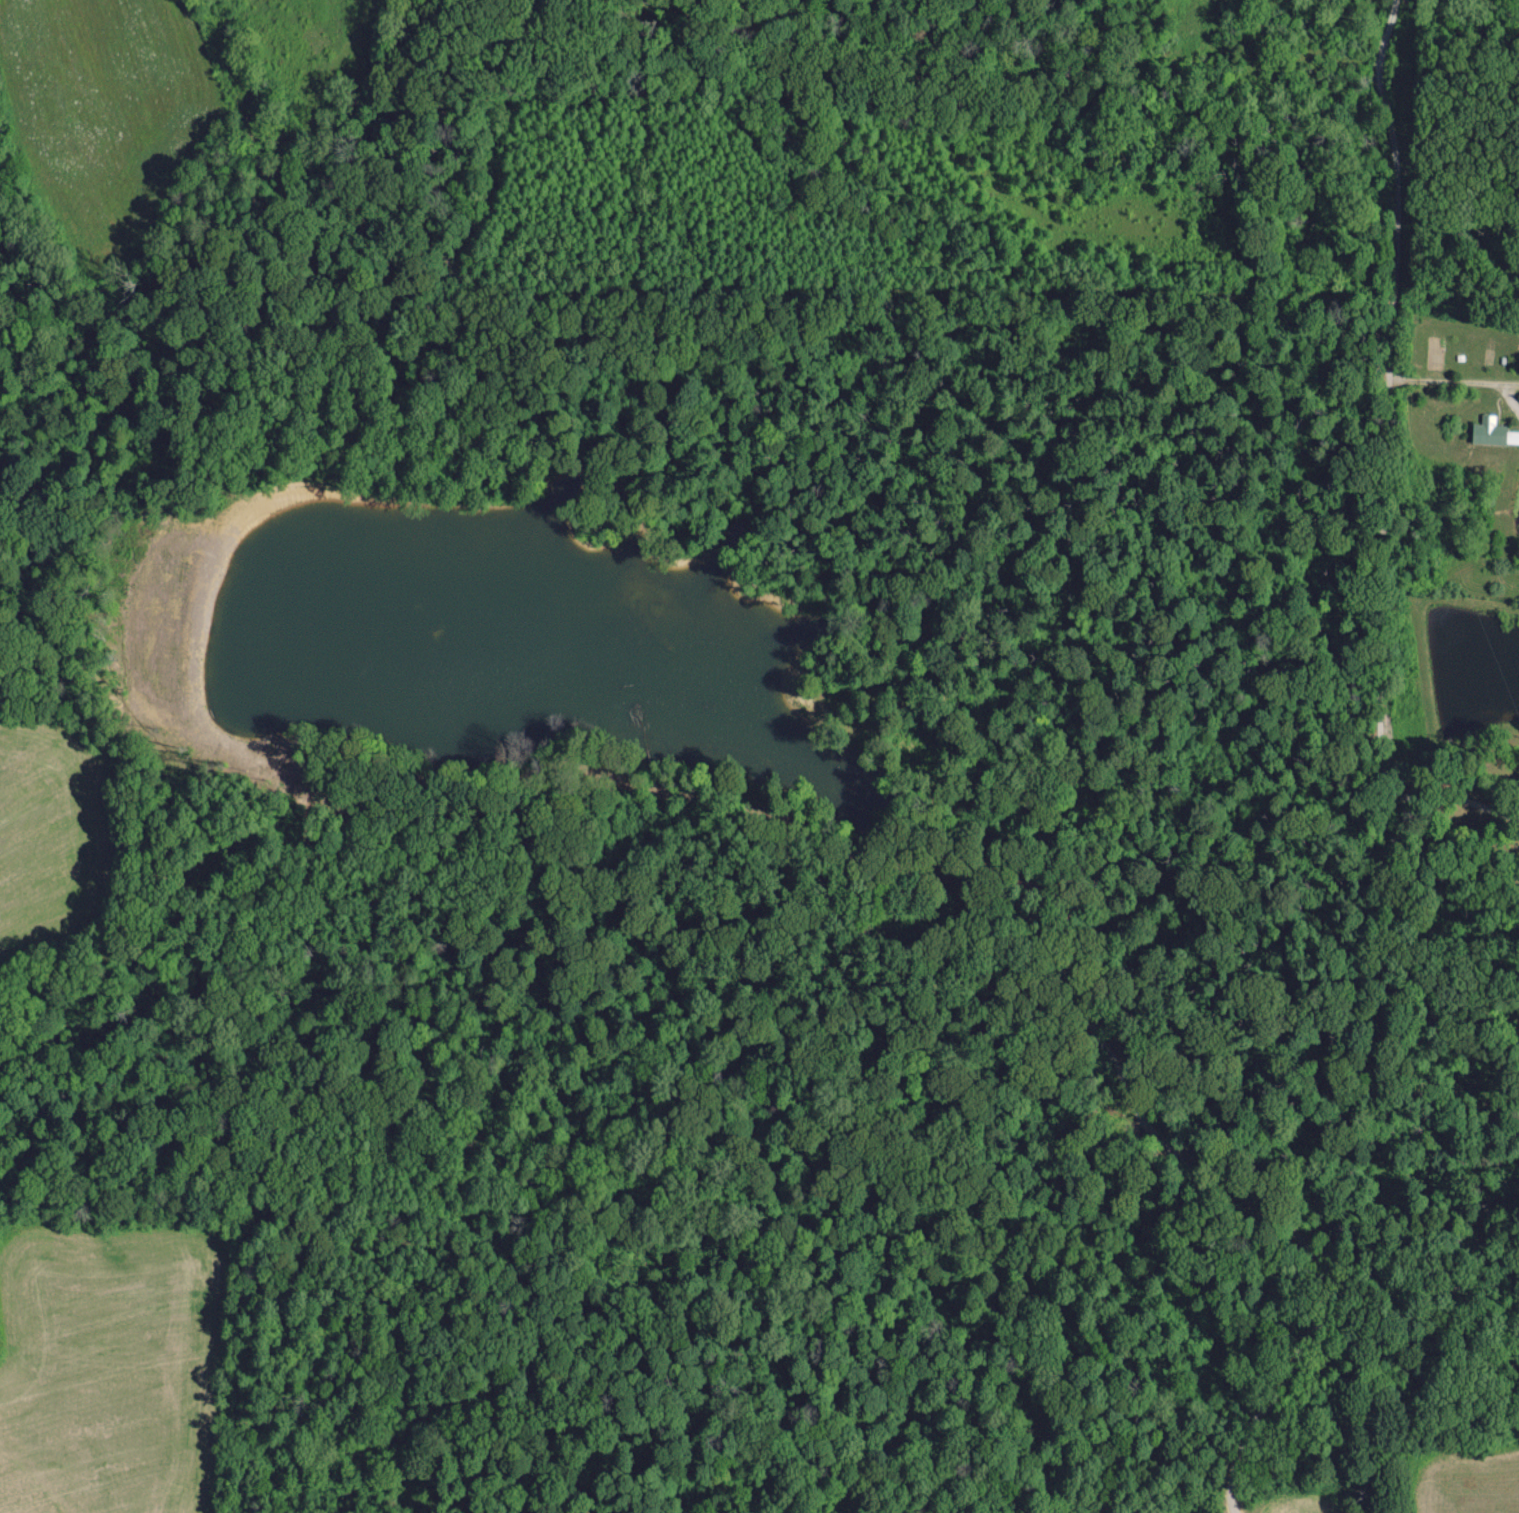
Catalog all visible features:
road: (1391, 217)
building: (1492, 432)

